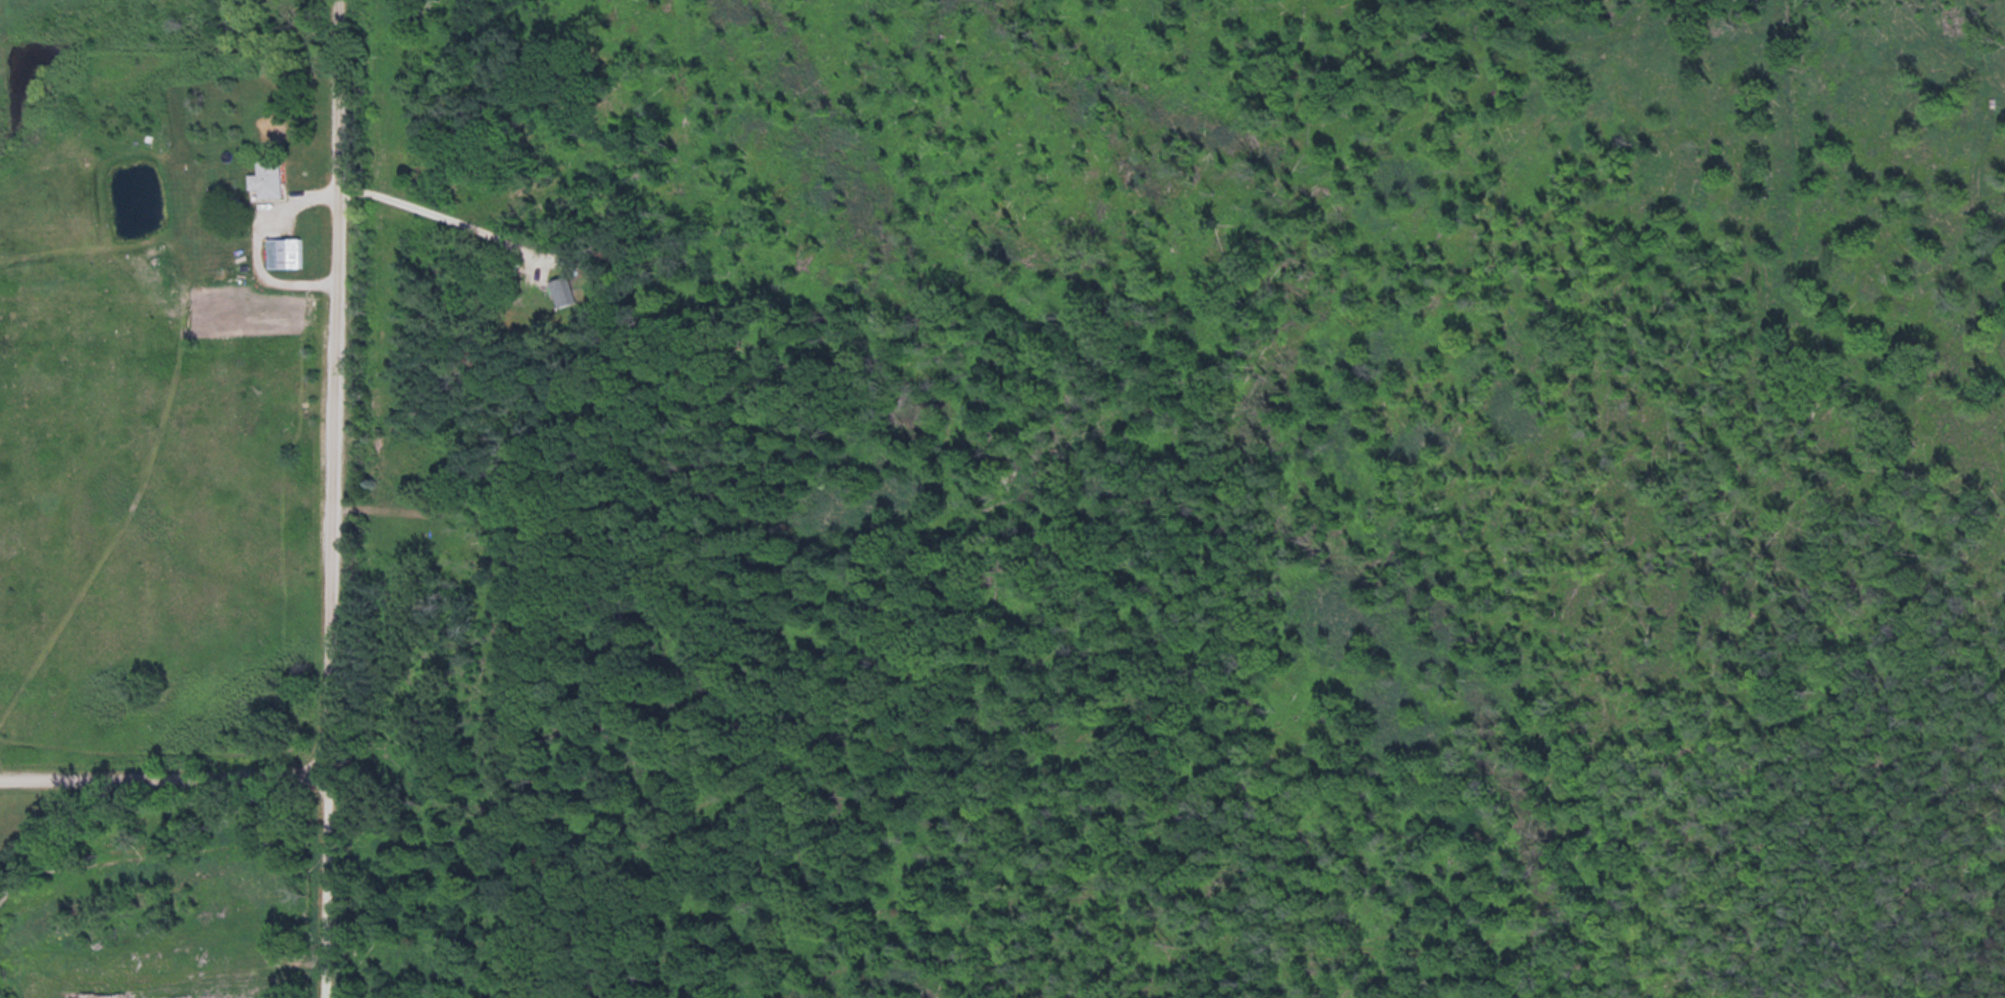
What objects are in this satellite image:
building: (270, 178)
road: (441, 216)
building: (285, 252)
building: (561, 292)
road: (325, 498)
road: (162, 776)

